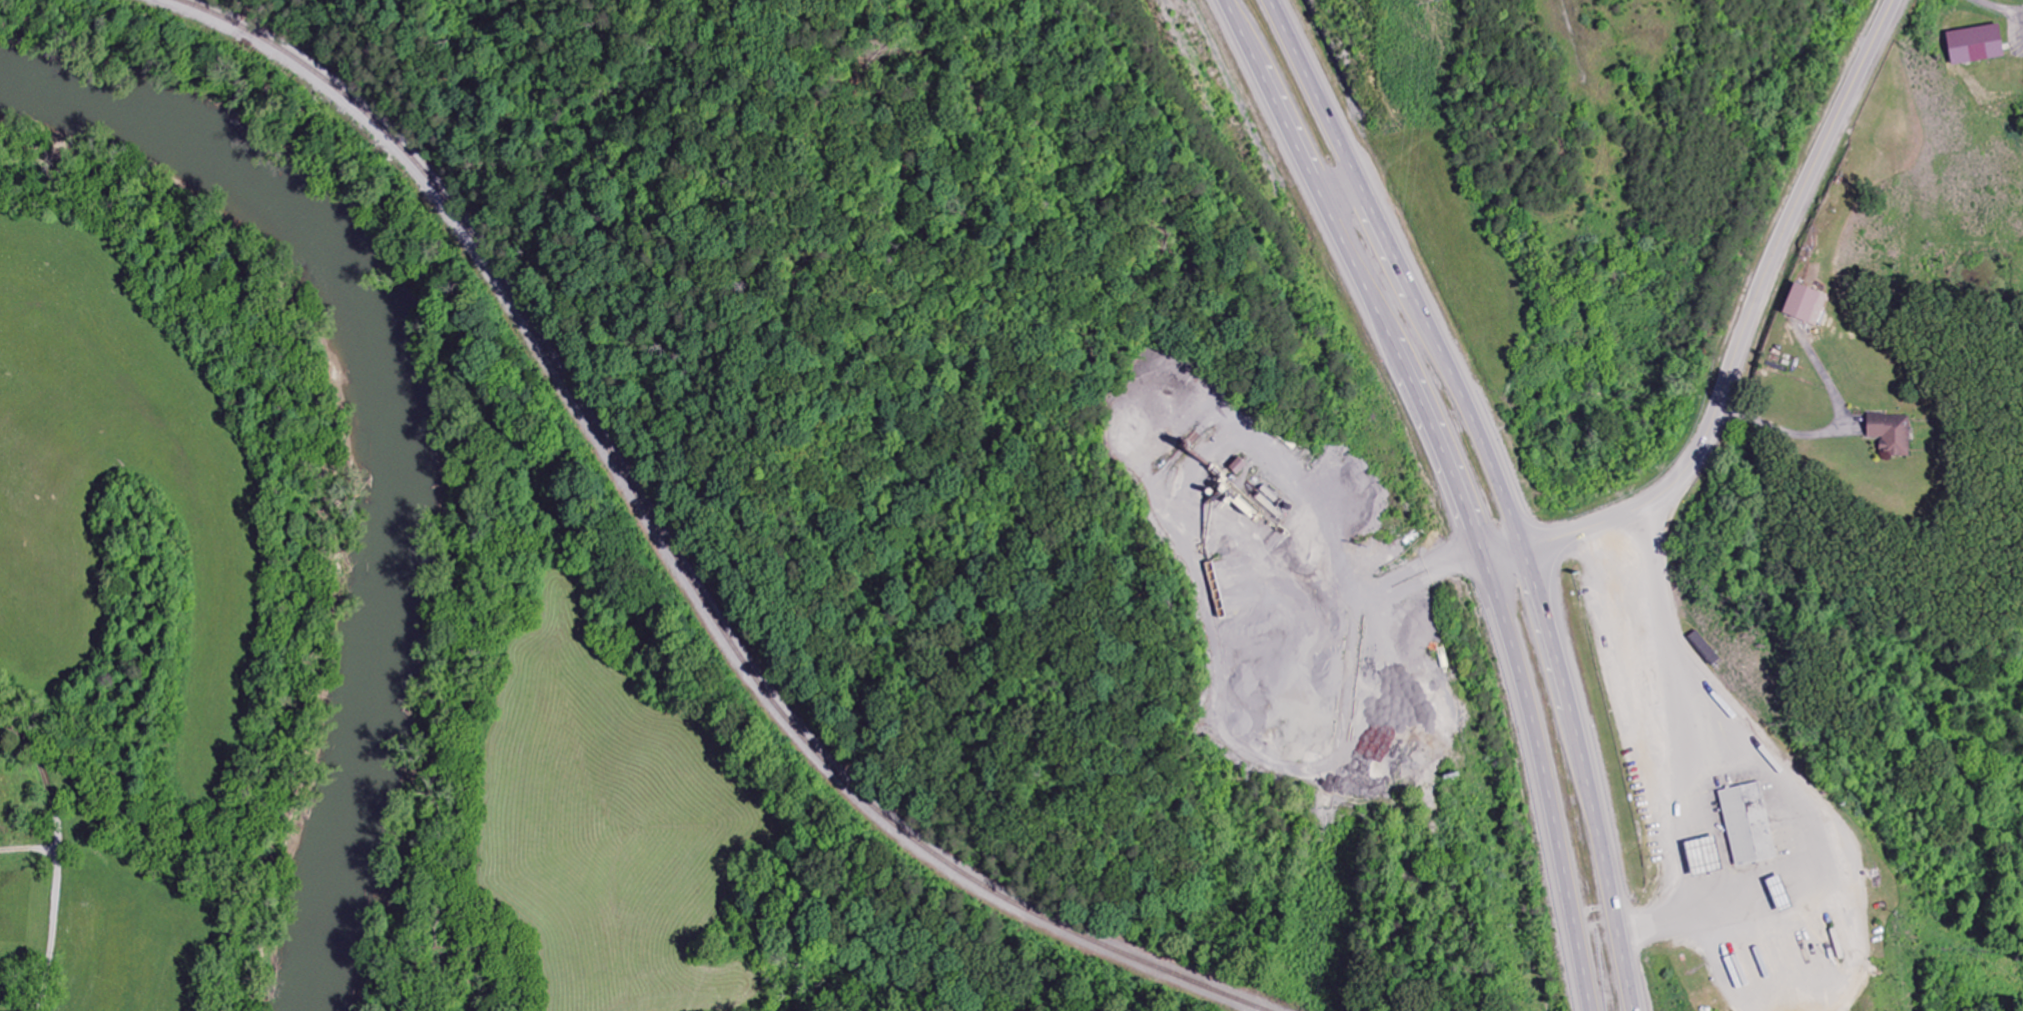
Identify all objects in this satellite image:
building: (1975, 45)
building: (1805, 305)
road: (1742, 338)
building: (1891, 433)
river: (369, 448)
building: (1239, 467)
road: (1455, 487)
road: (1505, 487)
railway: (695, 548)
building: (1748, 824)
road: (58, 862)

